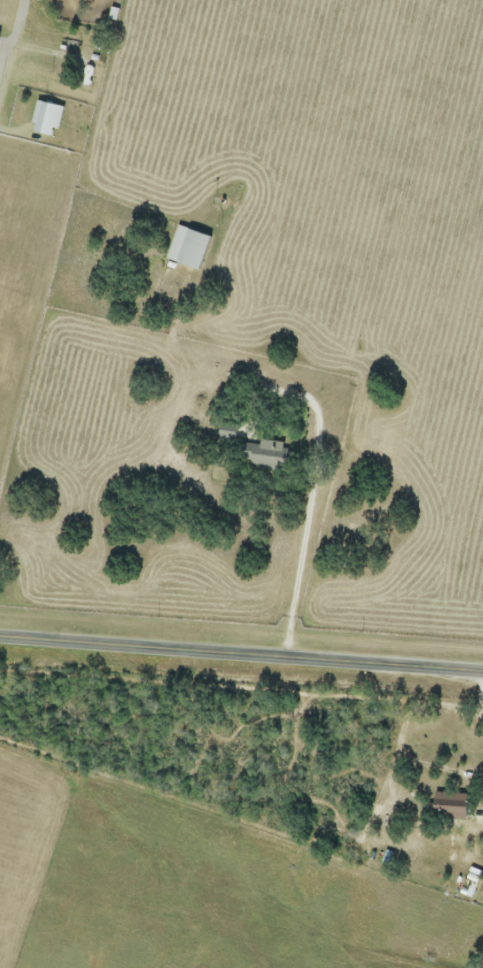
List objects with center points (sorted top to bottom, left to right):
building: (0, 38)
building: (48, 118)
building: (190, 246)
building: (267, 453)
road: (304, 536)
road: (241, 655)
road: (473, 770)
building: (452, 804)

